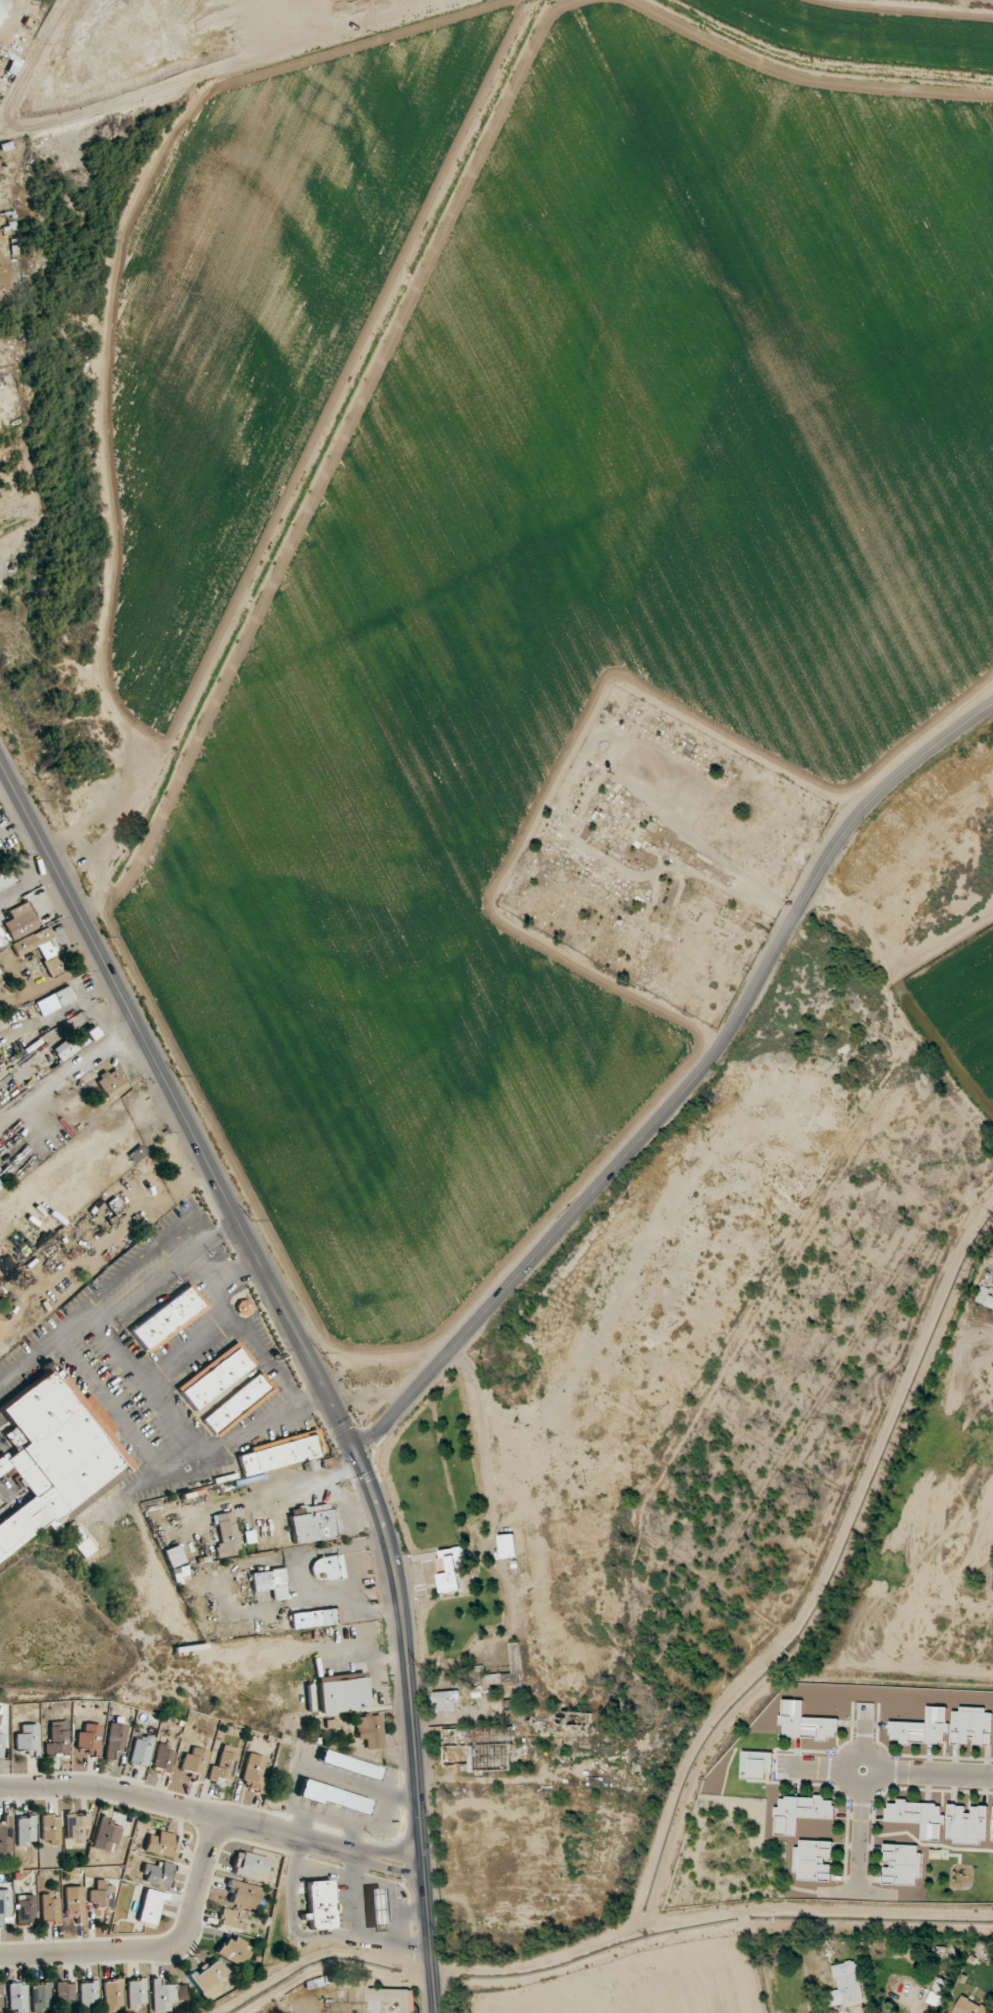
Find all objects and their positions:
road: (15, 827)
park: (660, 856)
building: (6, 878)
building: (21, 921)
building: (55, 1000)
building: (76, 1043)
building: (111, 1083)
road: (689, 1086)
building: (1, 1189)
road: (236, 1274)
building: (985, 1297)
building: (244, 1308)
building: (168, 1318)
road: (236, 1319)
road: (188, 1348)
road: (310, 1359)
building: (217, 1377)
road: (151, 1390)
building: (238, 1404)
building: (282, 1454)
traffic signals: (359, 1454)
building: (55, 1458)
building: (312, 1523)
building: (226, 1535)
building: (507, 1545)
building: (173, 1556)
building: (328, 1567)
building: (452, 1568)
building: (271, 1583)
building: (316, 1619)
building: (446, 1701)
building: (805, 1721)
building: (971, 1726)
building: (922, 1728)
building: (370, 1731)
building: (89, 1738)
building: (115, 1739)
building: (27, 1740)
building: (58, 1740)
building: (2, 1742)
building: (142, 1749)
building: (477, 1749)
building: (164, 1758)
building: (195, 1762)
building: (756, 1764)
building: (225, 1765)
building: (350, 1765)
building: (254, 1772)
building: (334, 1797)
building: (800, 1812)
building: (918, 1817)
building: (967, 1824)
building: (76, 1828)
building: (50, 1829)
building: (26, 1831)
building: (6, 1835)
building: (106, 1835)
road: (317, 1841)
building: (161, 1844)
building: (813, 1860)
road: (206, 1863)
building: (249, 1864)
building: (902, 1864)
building: (158, 1874)
building: (243, 1893)
building: (102, 1895)
building: (74, 1902)
building: (5, 1903)
building: (320, 1906)
building: (150, 1907)
building: (376, 1908)
building: (26, 1909)
building: (50, 1910)
building: (230, 1919)
building: (209, 1979)
building: (846, 1984)
building: (937, 1991)
building: (137, 1993)
building: (89, 1995)
building: (167, 1995)
building: (65, 1996)
building: (113, 1996)
building: (0, 1998)
building: (17, 1998)
building: (41, 1998)
building: (393, 1999)
building: (969, 2006)

